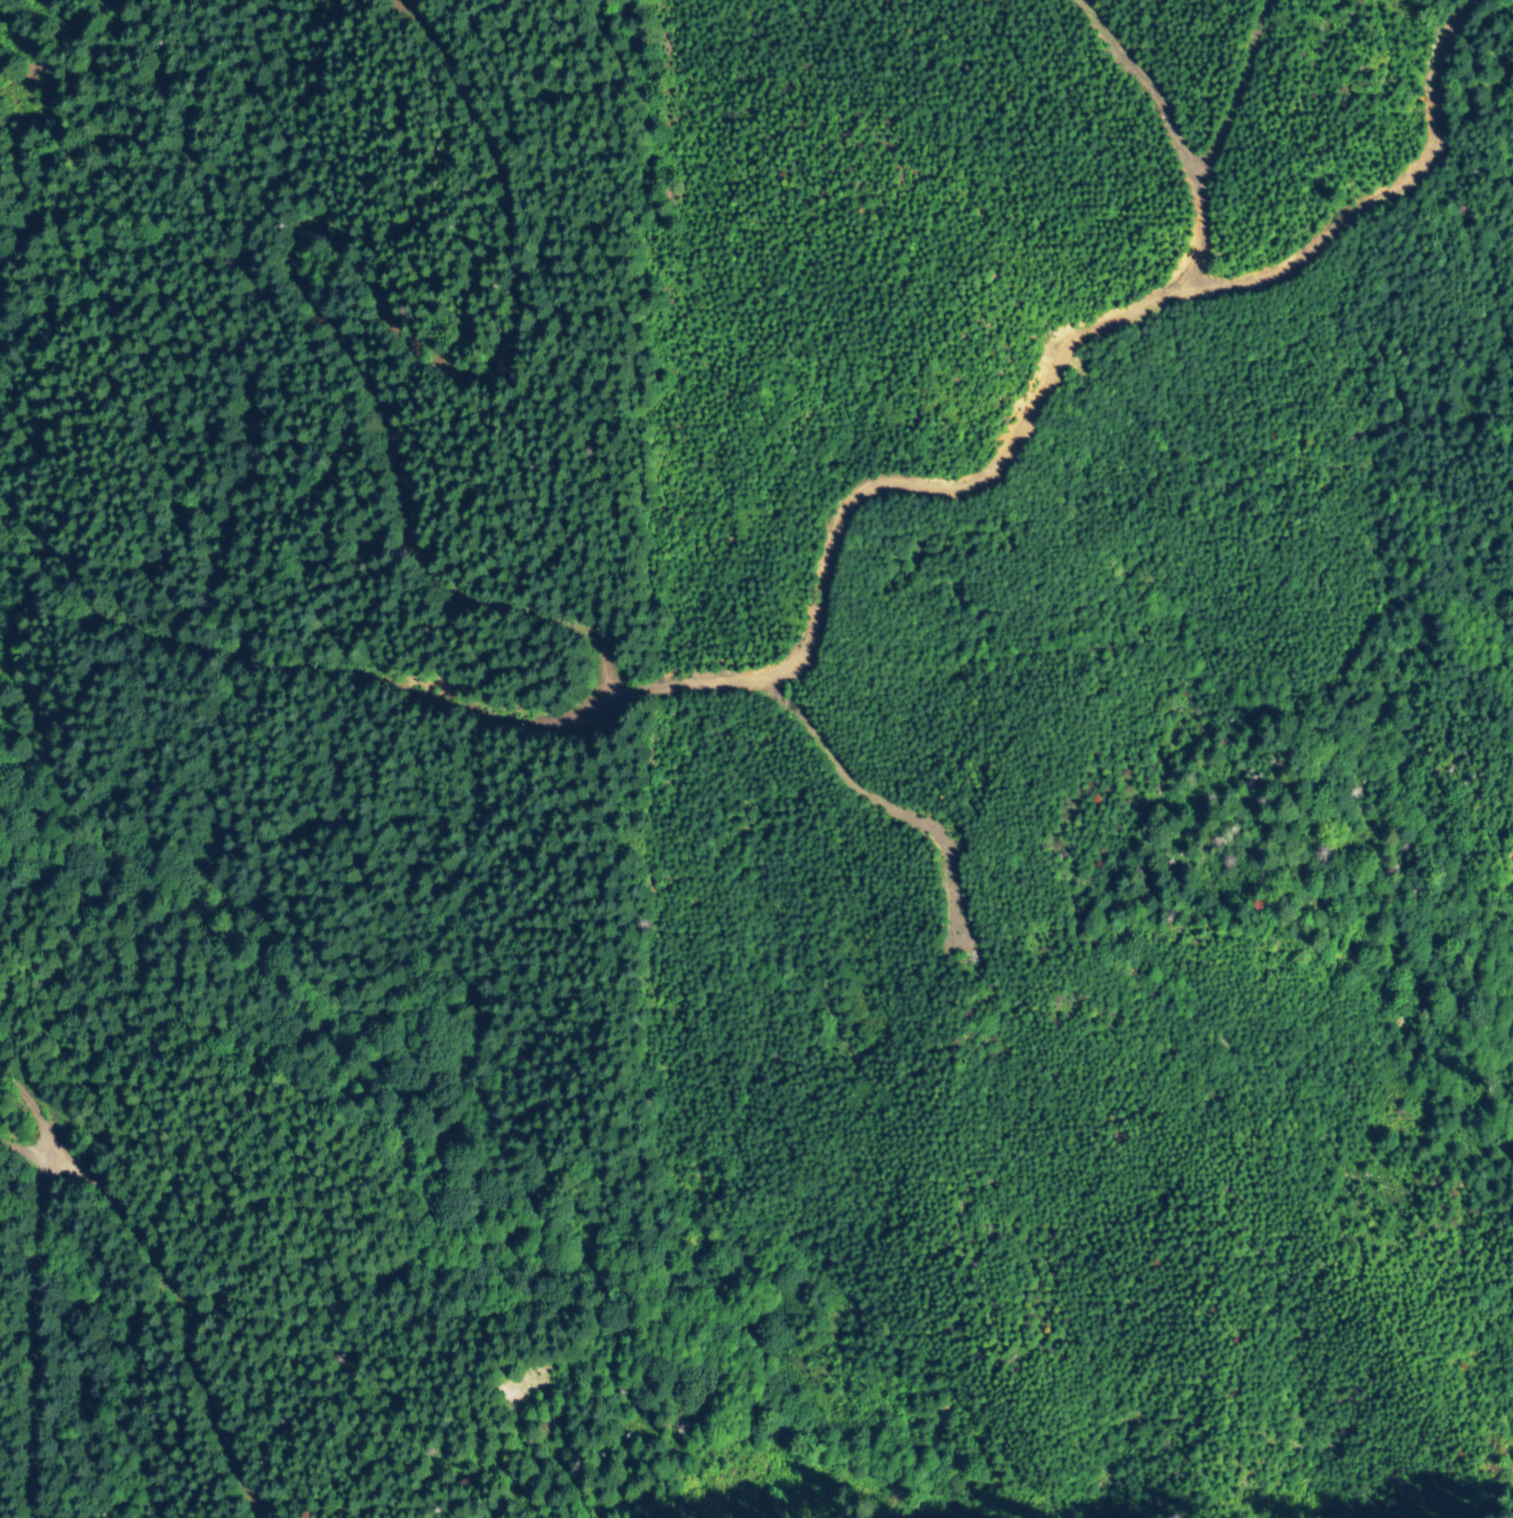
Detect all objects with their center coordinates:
road: (293, 239)
road: (830, 558)
road: (29, 1293)
road: (163, 1303)

